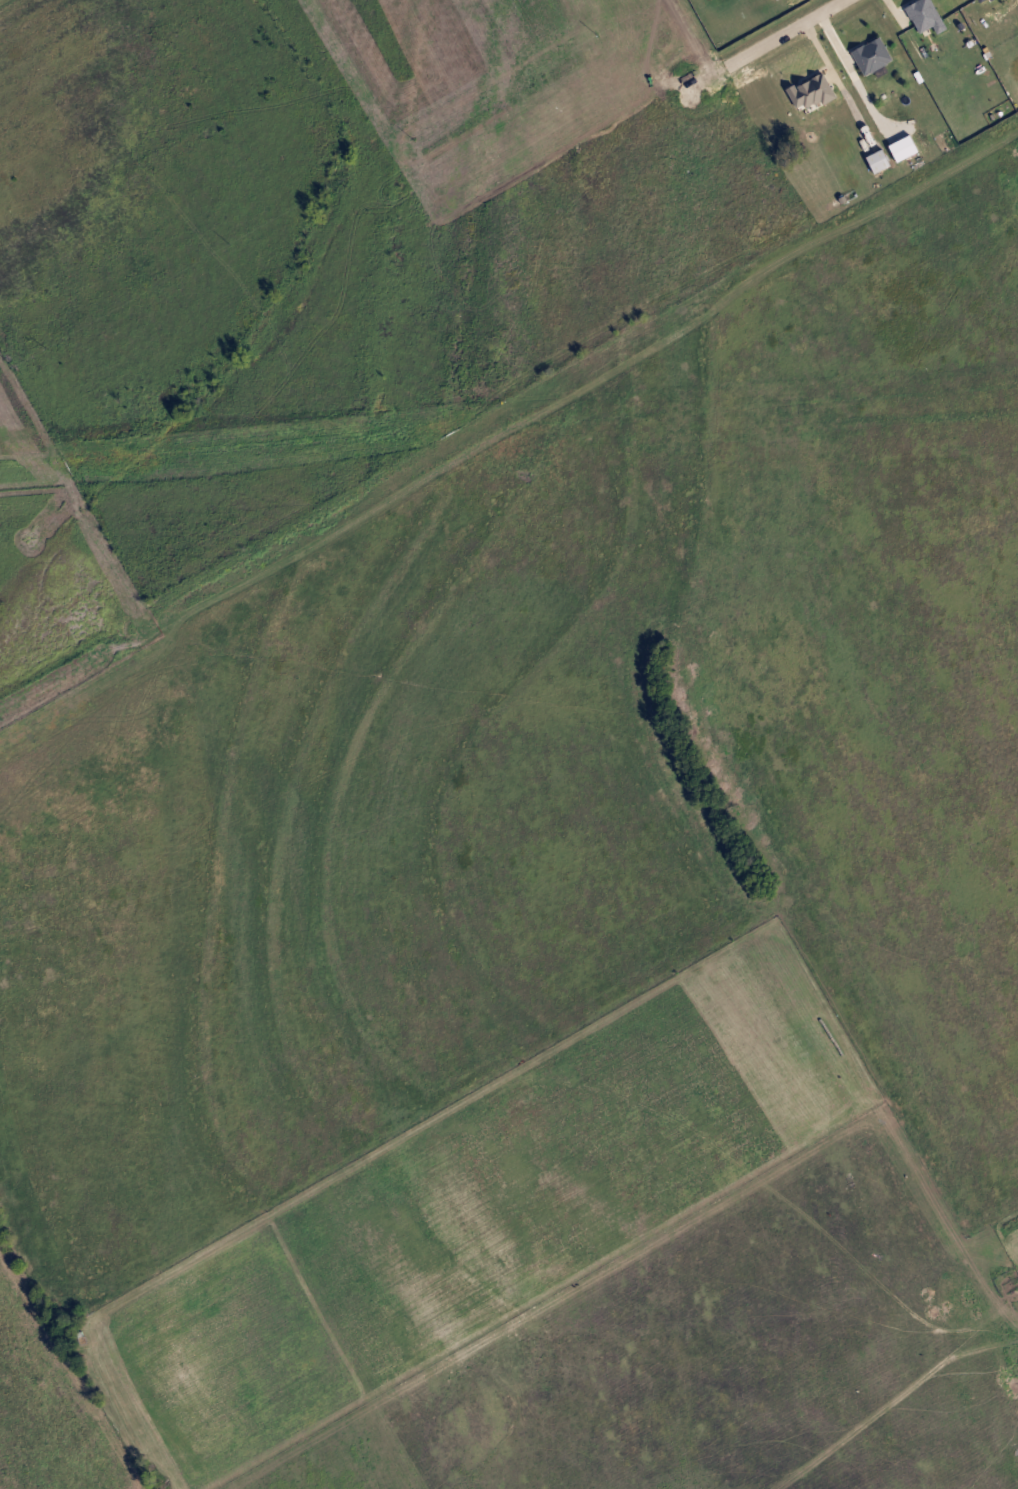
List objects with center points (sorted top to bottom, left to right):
road: (770, 38)
building: (867, 56)
building: (805, 92)
building: (873, 161)

